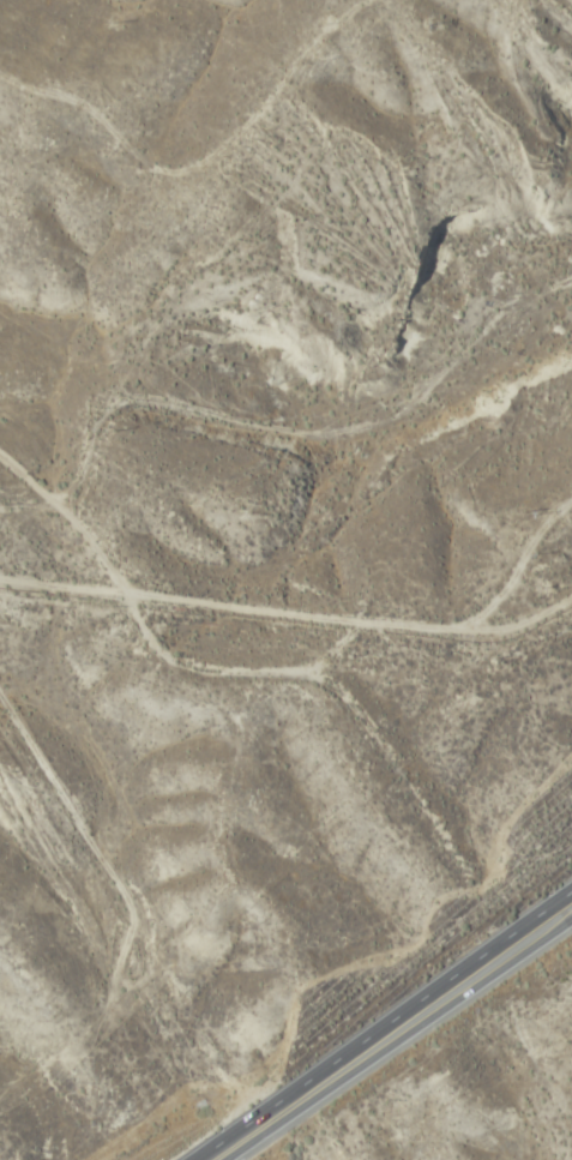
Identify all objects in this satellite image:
road: (227, 617)
road: (64, 794)
road: (398, 1035)
crop: (534, 1138)

